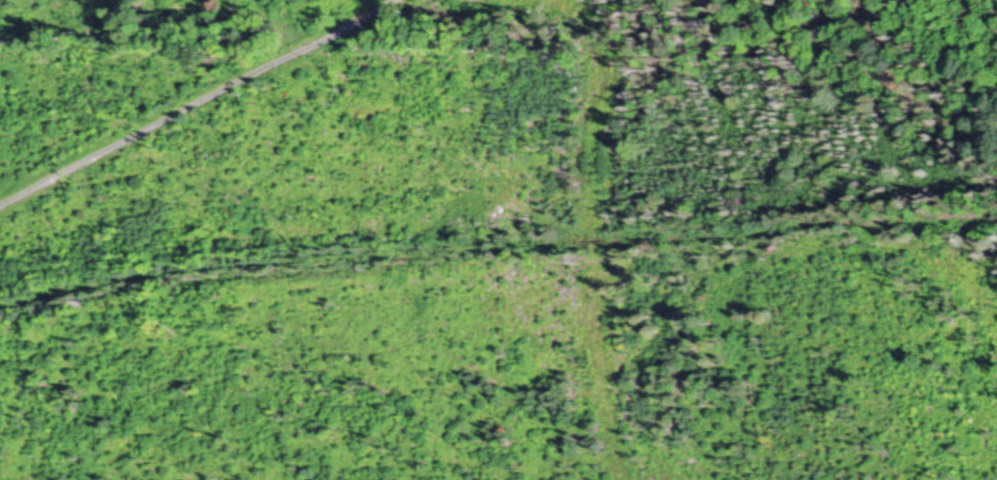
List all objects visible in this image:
road: (199, 100)
railway: (496, 258)

